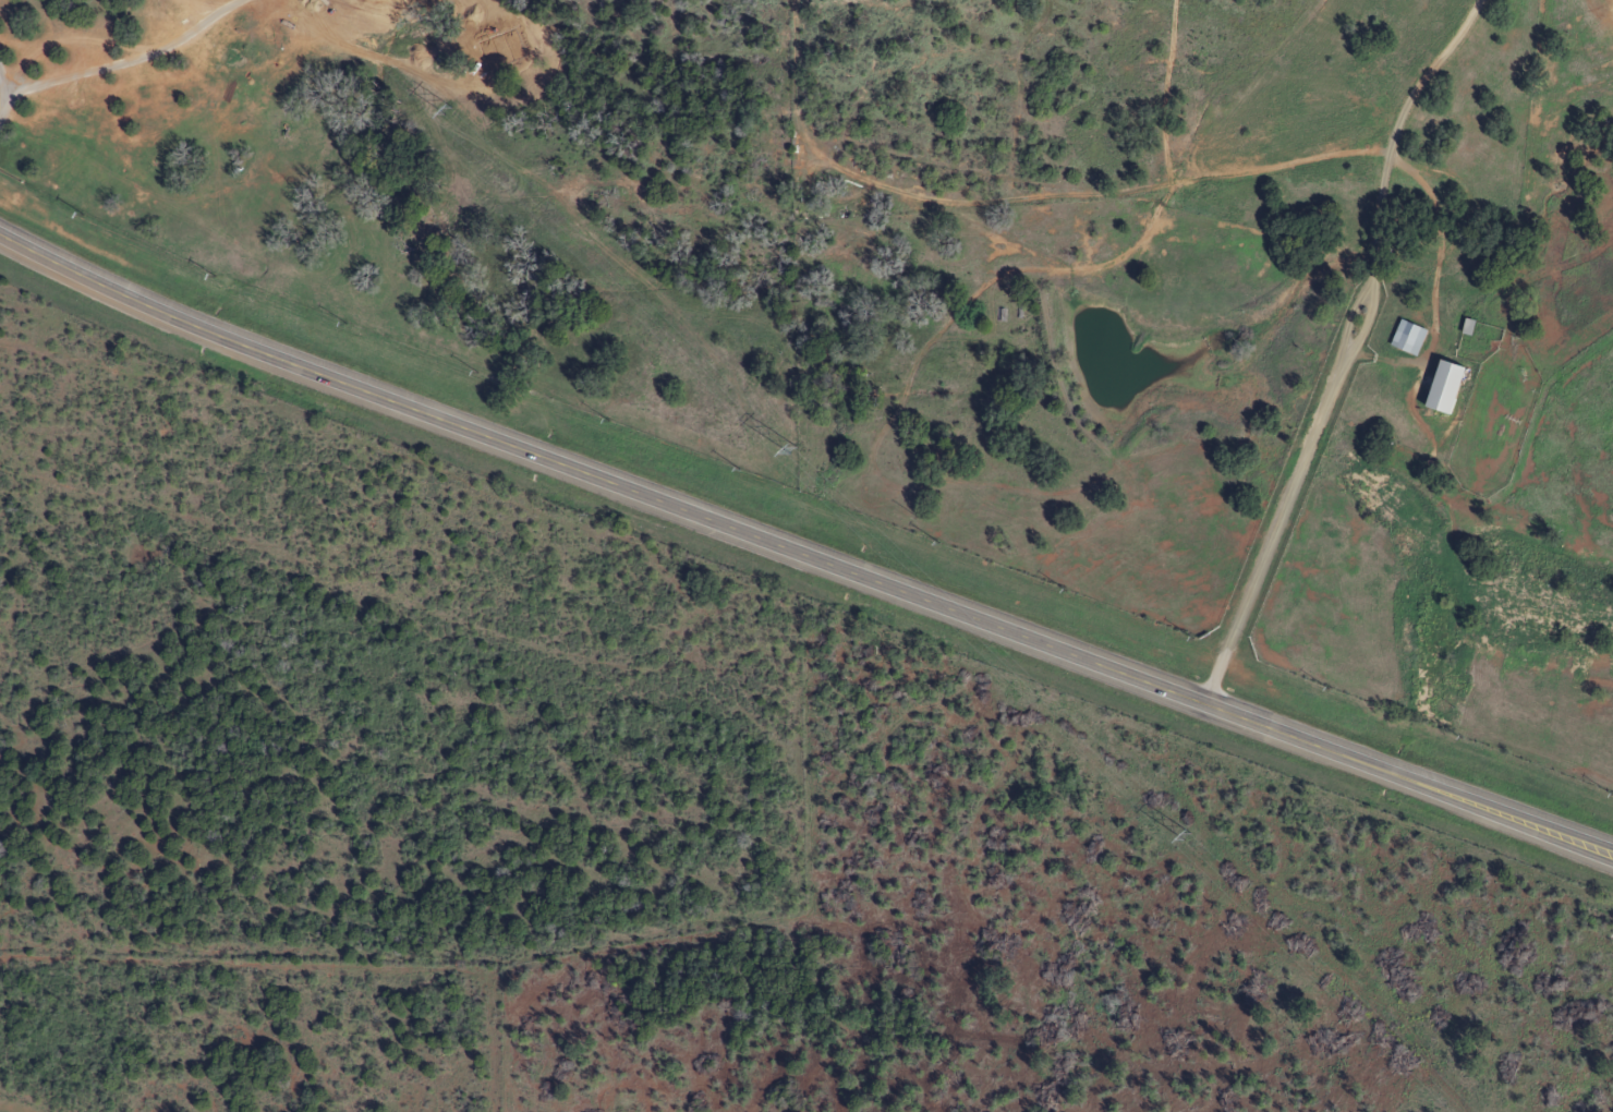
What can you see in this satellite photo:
power tower: (447, 110)
building: (1402, 343)
building: (1438, 387)
power tower: (793, 449)
road: (803, 554)
power tower: (1187, 836)

